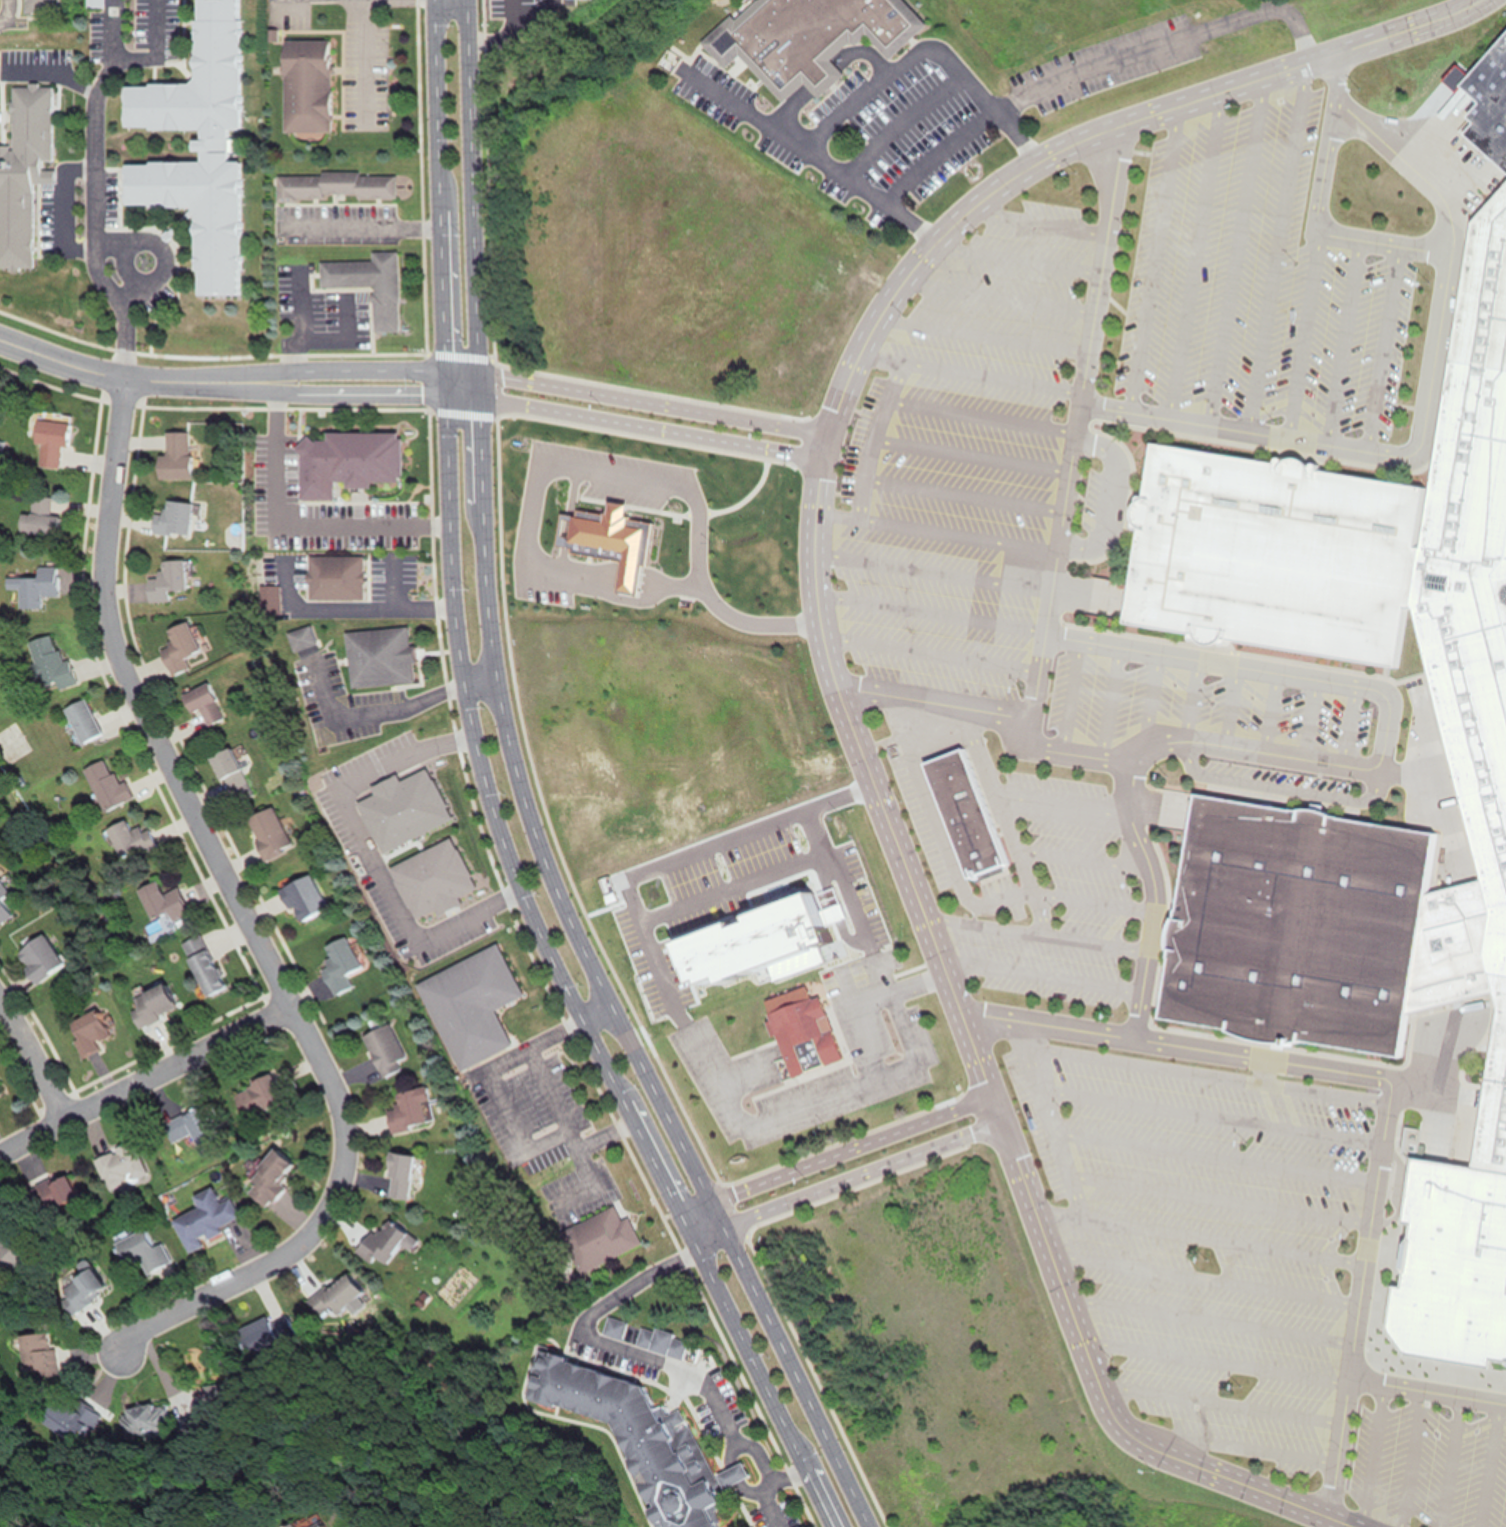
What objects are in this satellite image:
building: (93, 2)
building: (37, 6)
road: (6, 11)
road: (501, 29)
building: (809, 33)
road: (1163, 38)
road: (159, 53)
road: (366, 61)
road: (52, 72)
building: (305, 95)
building: (1488, 102)
road: (1172, 104)
road: (960, 130)
building: (195, 148)
road: (816, 152)
building: (23, 170)
building: (335, 186)
road: (94, 190)
road: (61, 214)
road: (1044, 217)
road: (361, 222)
road: (1317, 231)
road: (1277, 245)
road: (1236, 249)
road: (162, 250)
road: (1021, 253)
road: (1195, 254)
road: (1153, 258)
road: (127, 267)
building: (369, 284)
parking lot: (1257, 286)
road: (1001, 291)
road: (987, 328)
road: (1304, 336)
road: (1342, 343)
road: (1383, 349)
road: (972, 367)
road: (364, 369)
road: (124, 377)
road: (364, 394)
road: (1428, 396)
road: (651, 403)
road: (980, 409)
road: (1077, 424)
road: (648, 428)
road: (871, 434)
building: (48, 436)
road: (971, 450)
building: (174, 456)
parking lot: (962, 458)
building: (346, 461)
parking lot: (606, 469)
road: (530, 475)
road: (569, 486)
road: (963, 489)
building: (38, 518)
building: (173, 518)
road: (298, 518)
road: (937, 528)
building: (607, 538)
road: (578, 565)
road: (934, 567)
parking lot: (536, 574)
building: (334, 576)
building: (166, 580)
road: (652, 580)
building: (33, 586)
road: (352, 602)
road: (929, 607)
road: (753, 620)
road: (486, 622)
building: (178, 646)
road: (929, 649)
building: (378, 656)
building: (49, 663)
road: (477, 674)
road: (835, 688)
road: (1068, 695)
road: (1190, 700)
road: (1107, 701)
building: (201, 703)
road: (1146, 704)
road: (1228, 706)
road: (370, 710)
road: (993, 713)
road: (1268, 713)
road: (1310, 719)
building: (81, 721)
road: (1348, 725)
building: (1472, 730)
road: (1319, 762)
building: (229, 775)
road: (1287, 782)
building: (105, 786)
road: (1061, 797)
road: (487, 800)
building: (967, 812)
road: (1003, 819)
road: (936, 829)
building: (267, 833)
building: (129, 839)
parking lot: (1075, 846)
road: (366, 850)
road: (1081, 854)
building: (431, 879)
building: (303, 897)
road: (1092, 898)
building: (3, 905)
building: (160, 906)
road: (243, 917)
road: (1035, 928)
building: (37, 958)
parking lot: (1040, 959)
building: (202, 965)
building: (338, 965)
road: (1042, 976)
building: (151, 1005)
building: (469, 1005)
road: (593, 1008)
building: (799, 1030)
building: (88, 1036)
building: (382, 1049)
road: (33, 1059)
road: (1202, 1068)
road: (1321, 1068)
road: (144, 1078)
road: (835, 1089)
building: (254, 1096)
building: (407, 1110)
road: (506, 1110)
road: (1208, 1112)
road: (1044, 1116)
building: (190, 1125)
road: (848, 1147)
road: (1212, 1154)
building: (120, 1165)
building: (398, 1176)
building: (268, 1177)
road: (844, 1179)
building: (62, 1189)
road: (1218, 1196)
road: (692, 1206)
building: (203, 1219)
road: (1198, 1233)
parking lot: (1203, 1233)
building: (597, 1238)
building: (383, 1242)
building: (141, 1251)
building: (9, 1259)
road: (1203, 1274)
building: (80, 1289)
building: (338, 1293)
road: (1208, 1314)
building: (661, 1342)
building: (35, 1355)
road: (1214, 1357)
road: (663, 1358)
road: (784, 1363)
road: (1090, 1368)
road: (1427, 1389)
road: (1220, 1400)
building: (640, 1442)
road: (1228, 1445)
road: (1337, 1446)
road: (1365, 1454)
road: (1404, 1457)
road: (1443, 1460)
parking lot: (1425, 1463)
road: (1484, 1464)
road: (783, 1472)
road: (1340, 1521)

